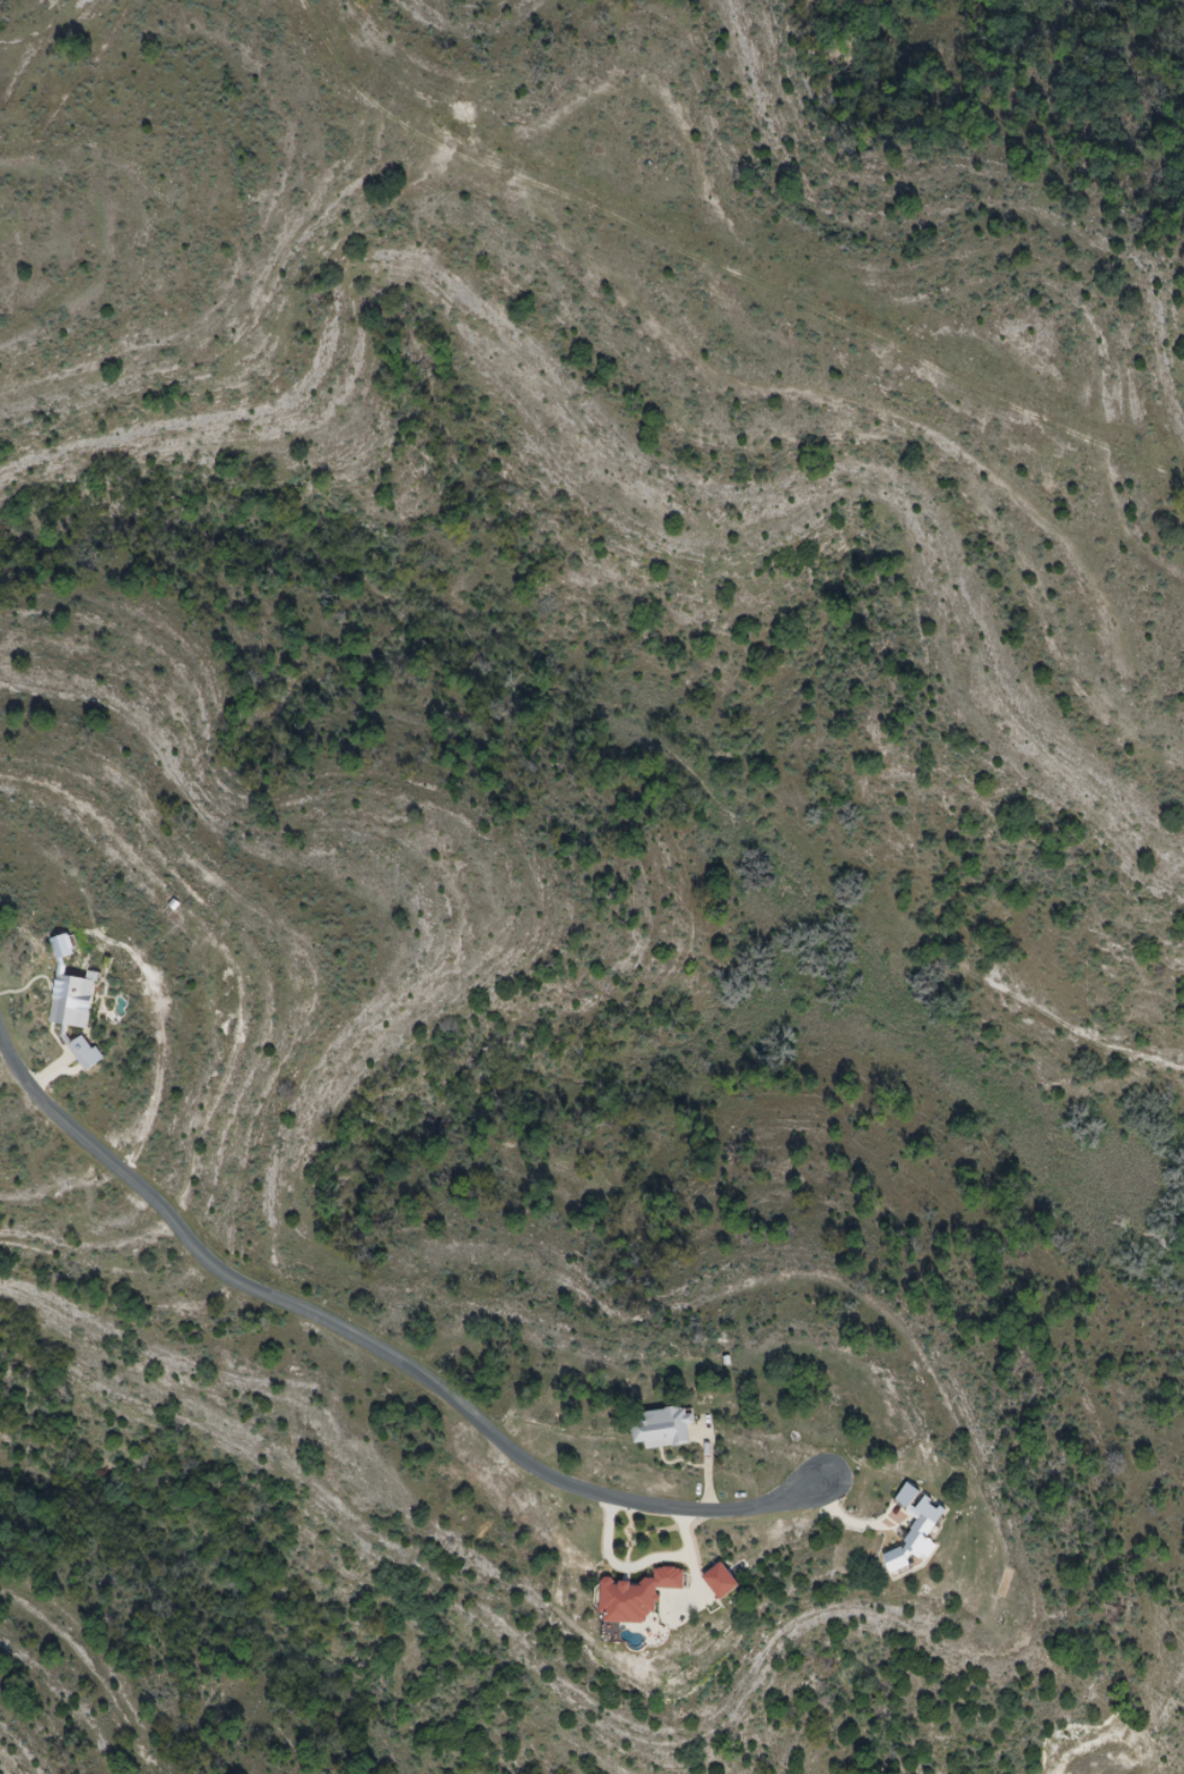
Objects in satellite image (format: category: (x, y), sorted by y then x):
building: (72, 1002)
road: (386, 1351)
building: (662, 1428)
road: (641, 1567)

